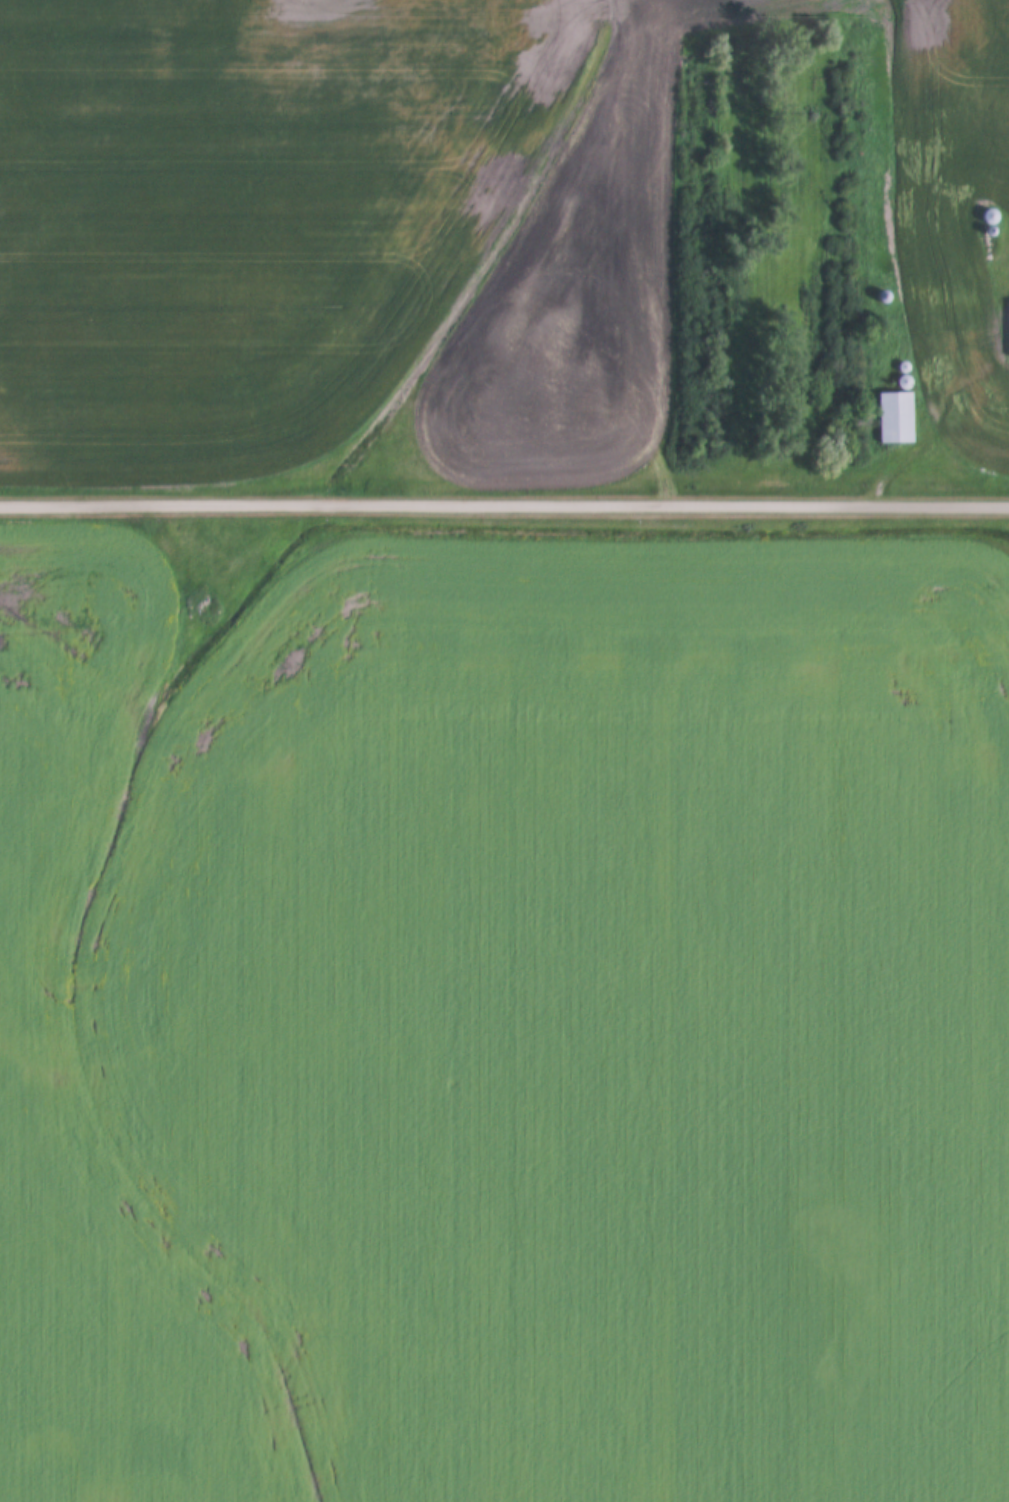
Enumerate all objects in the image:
building: (987, 214)
building: (880, 295)
building: (903, 380)
building: (893, 416)
road: (504, 501)

